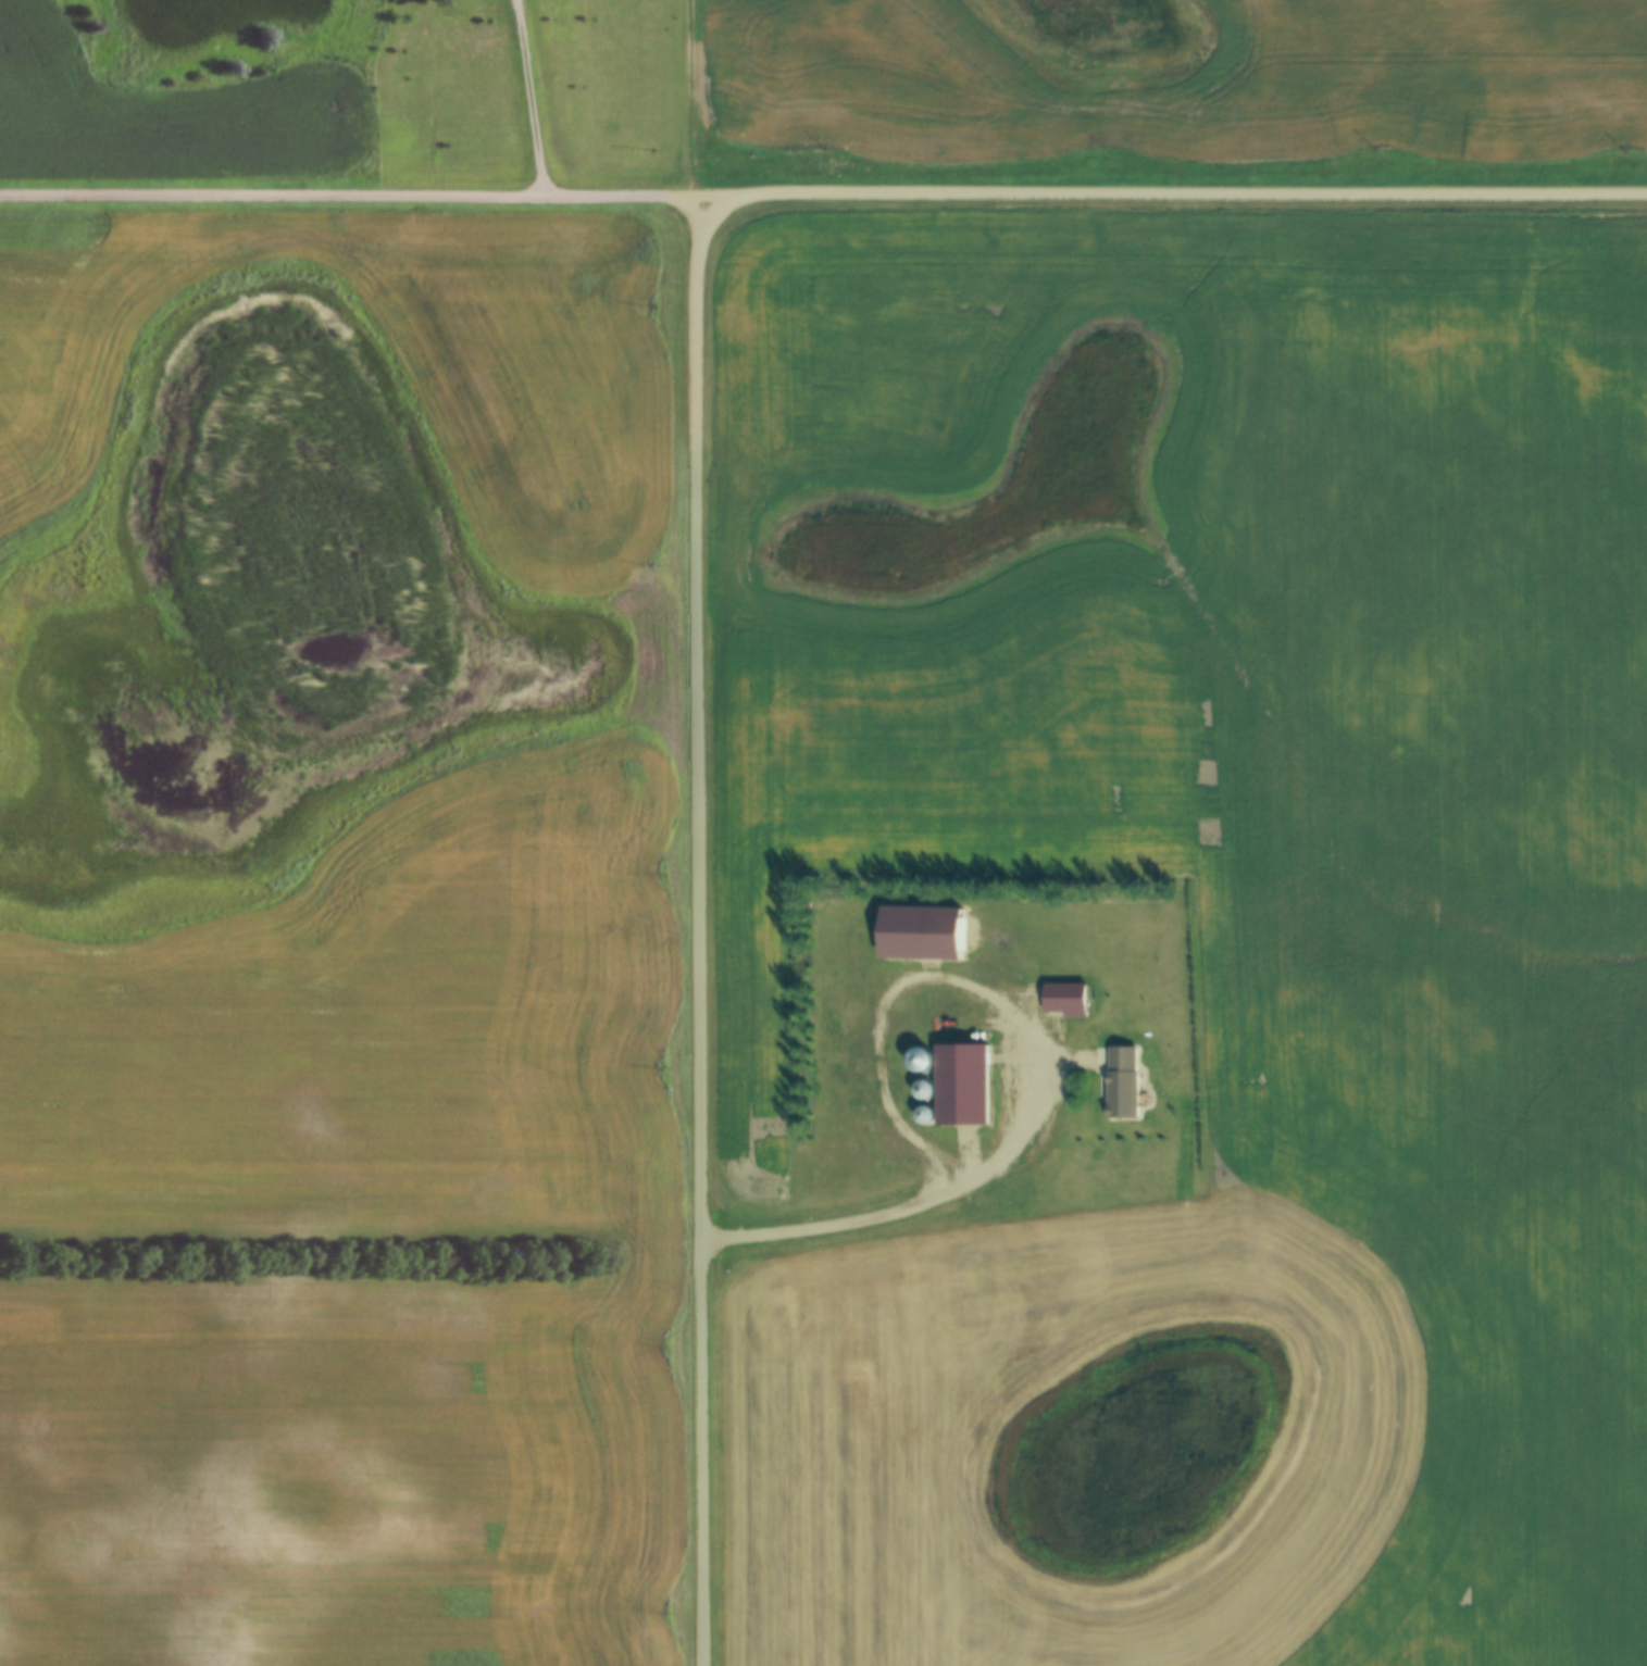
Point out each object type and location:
road: (533, 99)
road: (693, 99)
road: (823, 196)
road: (696, 931)
building: (925, 1061)
building: (1116, 1080)
building: (966, 1085)
road: (907, 1205)

